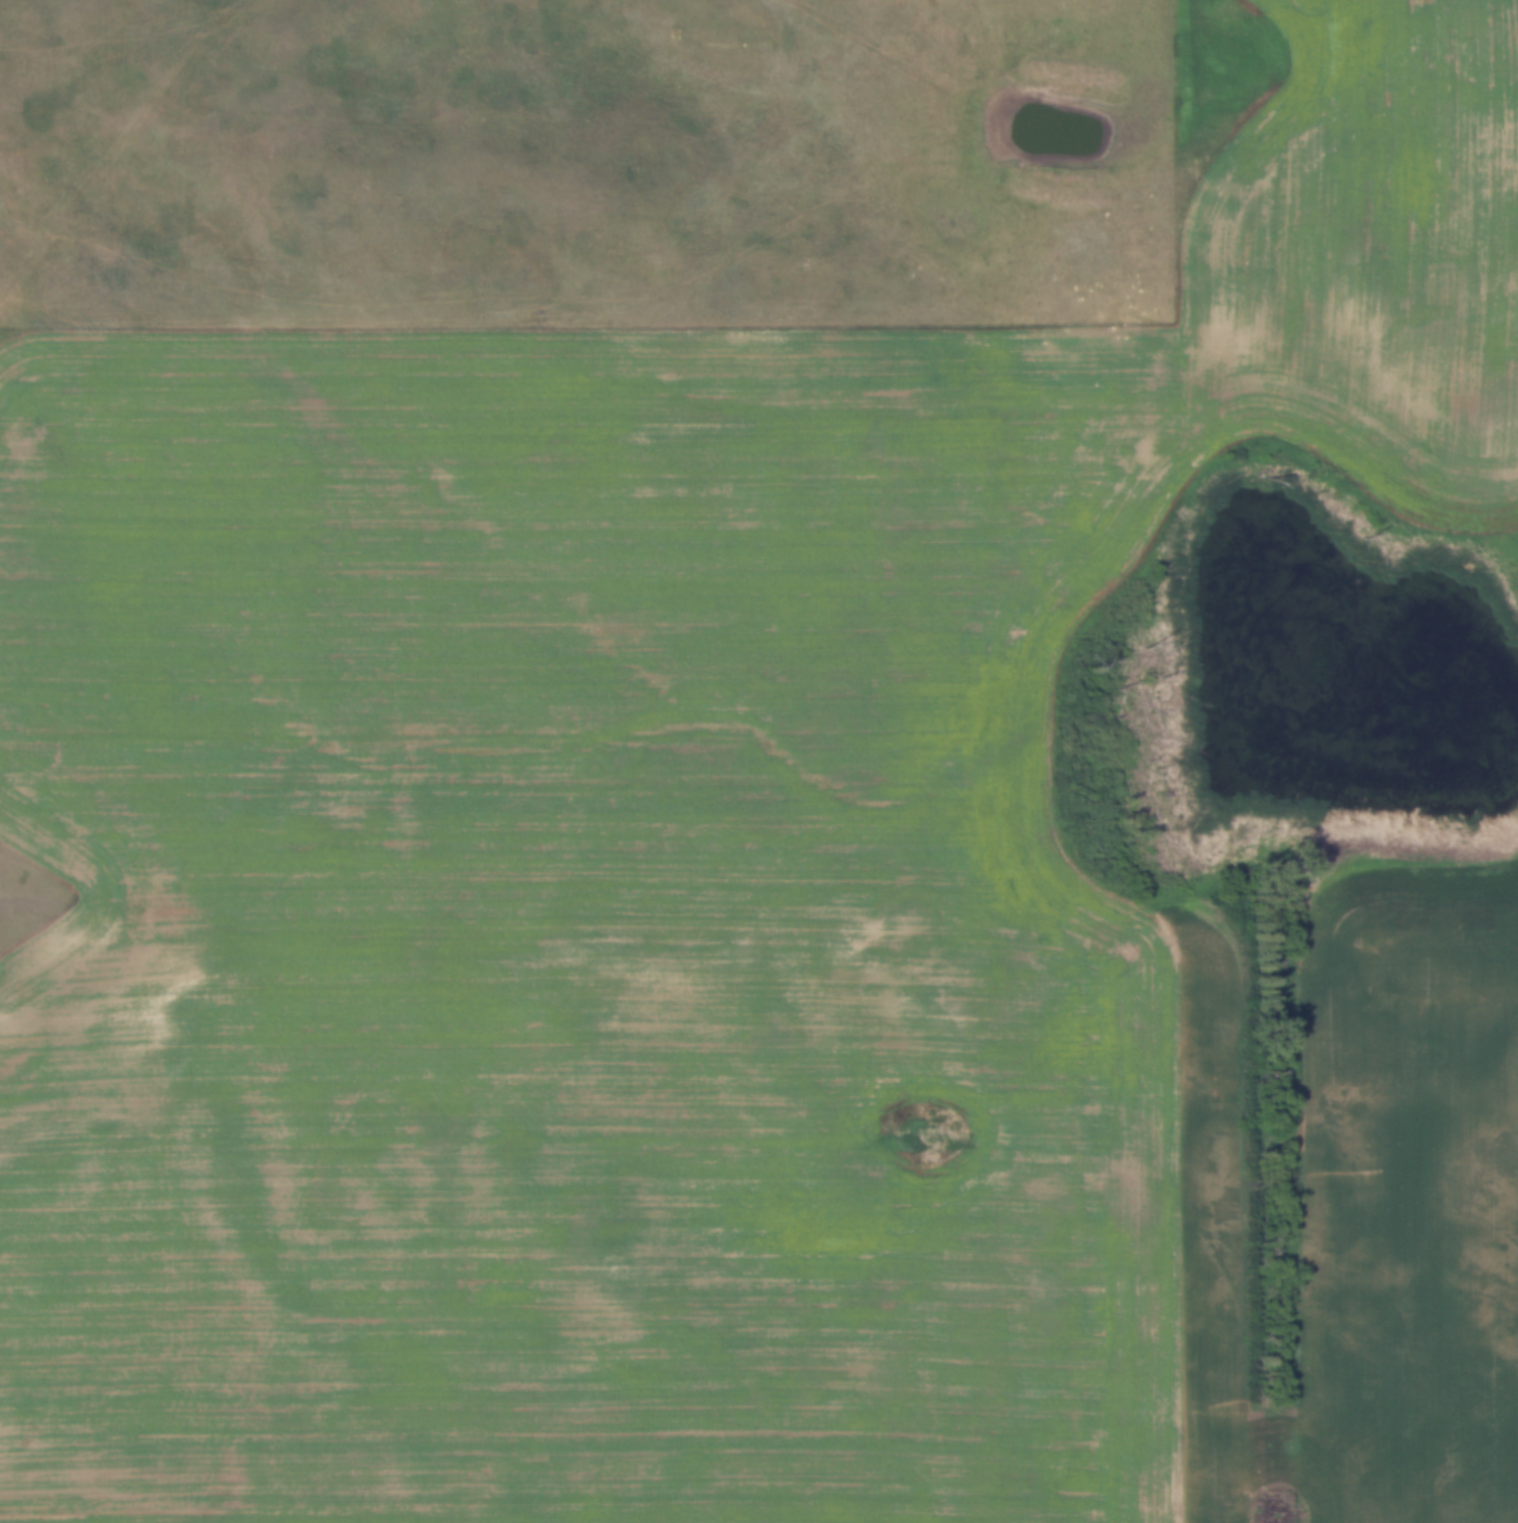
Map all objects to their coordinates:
road: (1151, 761)

